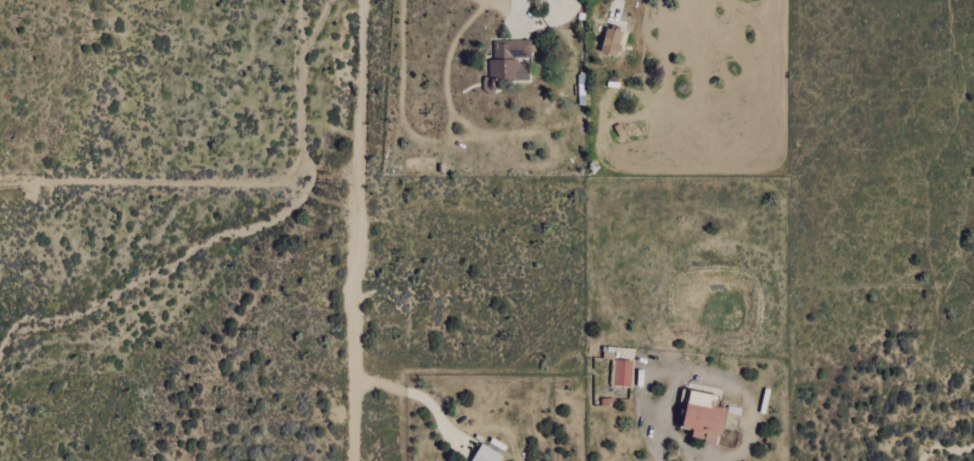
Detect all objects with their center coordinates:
building: (611, 41)
building: (509, 59)
road: (437, 138)
road: (241, 182)
road: (361, 230)
building: (622, 373)
building: (703, 415)
building: (485, 454)

